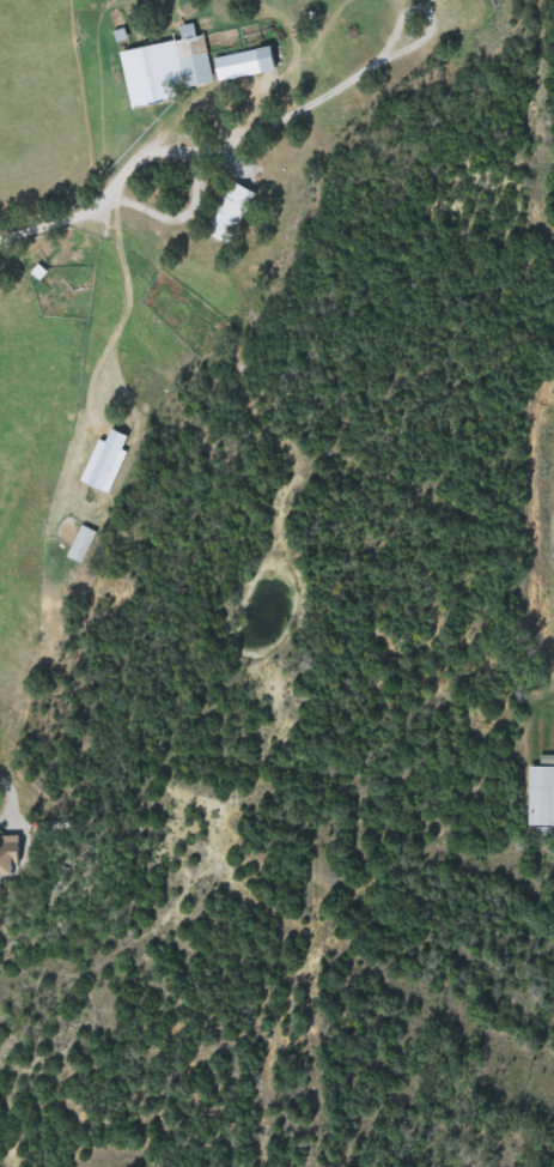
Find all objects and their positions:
building: (194, 58)
building: (249, 64)
road: (193, 198)
road: (59, 213)
building: (102, 466)
building: (83, 544)
building: (542, 796)
building: (16, 857)

